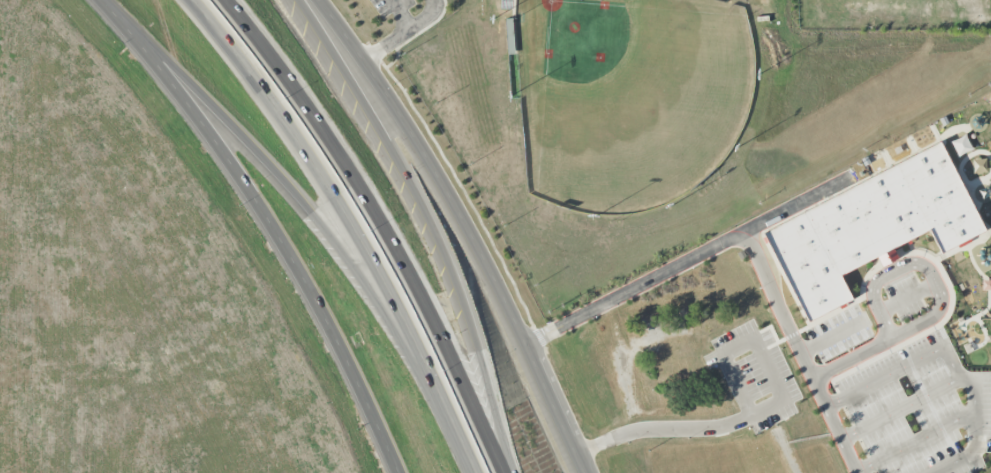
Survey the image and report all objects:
road: (415, 23)
road: (387, 44)
park: (637, 102)
road: (316, 220)
road: (268, 222)
road: (381, 225)
road: (425, 225)
road: (351, 226)
building: (870, 226)
road: (464, 227)
road: (751, 238)
building: (887, 258)
road: (912, 262)
road: (880, 313)
road: (919, 320)
road: (834, 336)
road: (854, 356)
road: (902, 369)
road: (902, 406)
road: (757, 413)
road: (973, 433)
road: (783, 440)
road: (917, 441)

